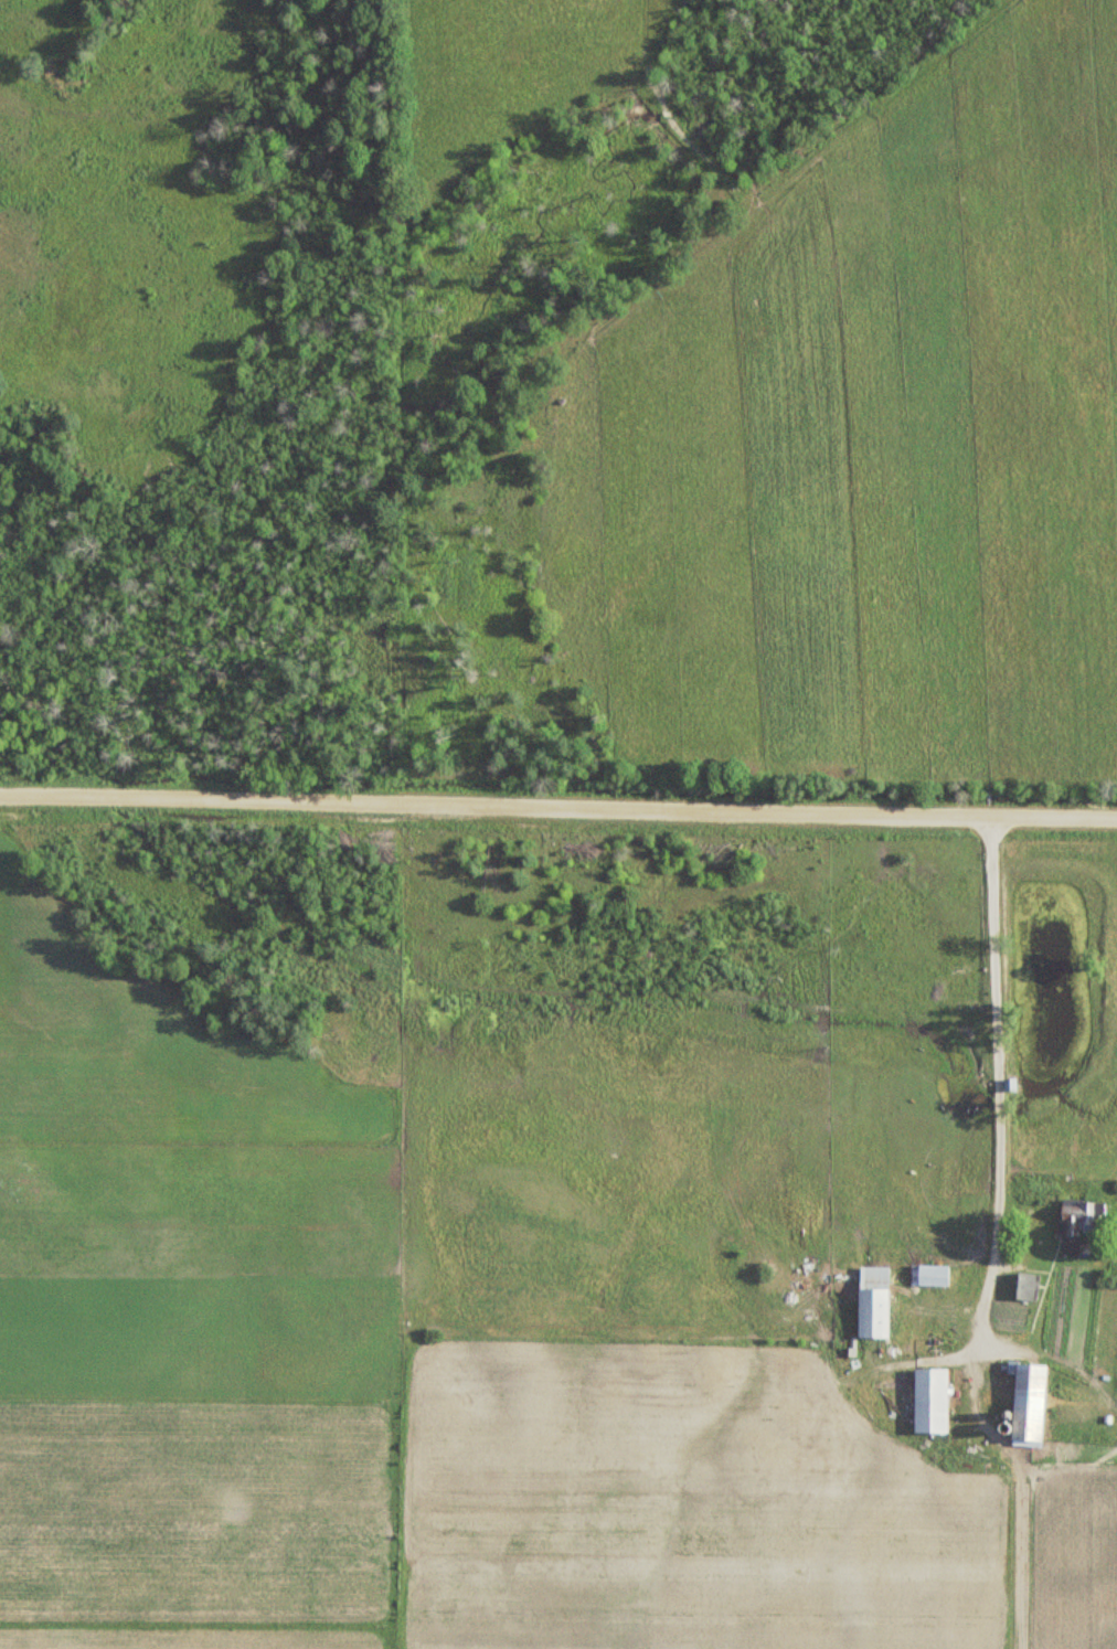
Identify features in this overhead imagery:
road: (558, 804)
road: (981, 1065)
building: (1039, 1189)
building: (1077, 1224)
building: (1025, 1286)
building: (864, 1298)
building: (1008, 1313)
building: (929, 1401)
building: (1025, 1403)

